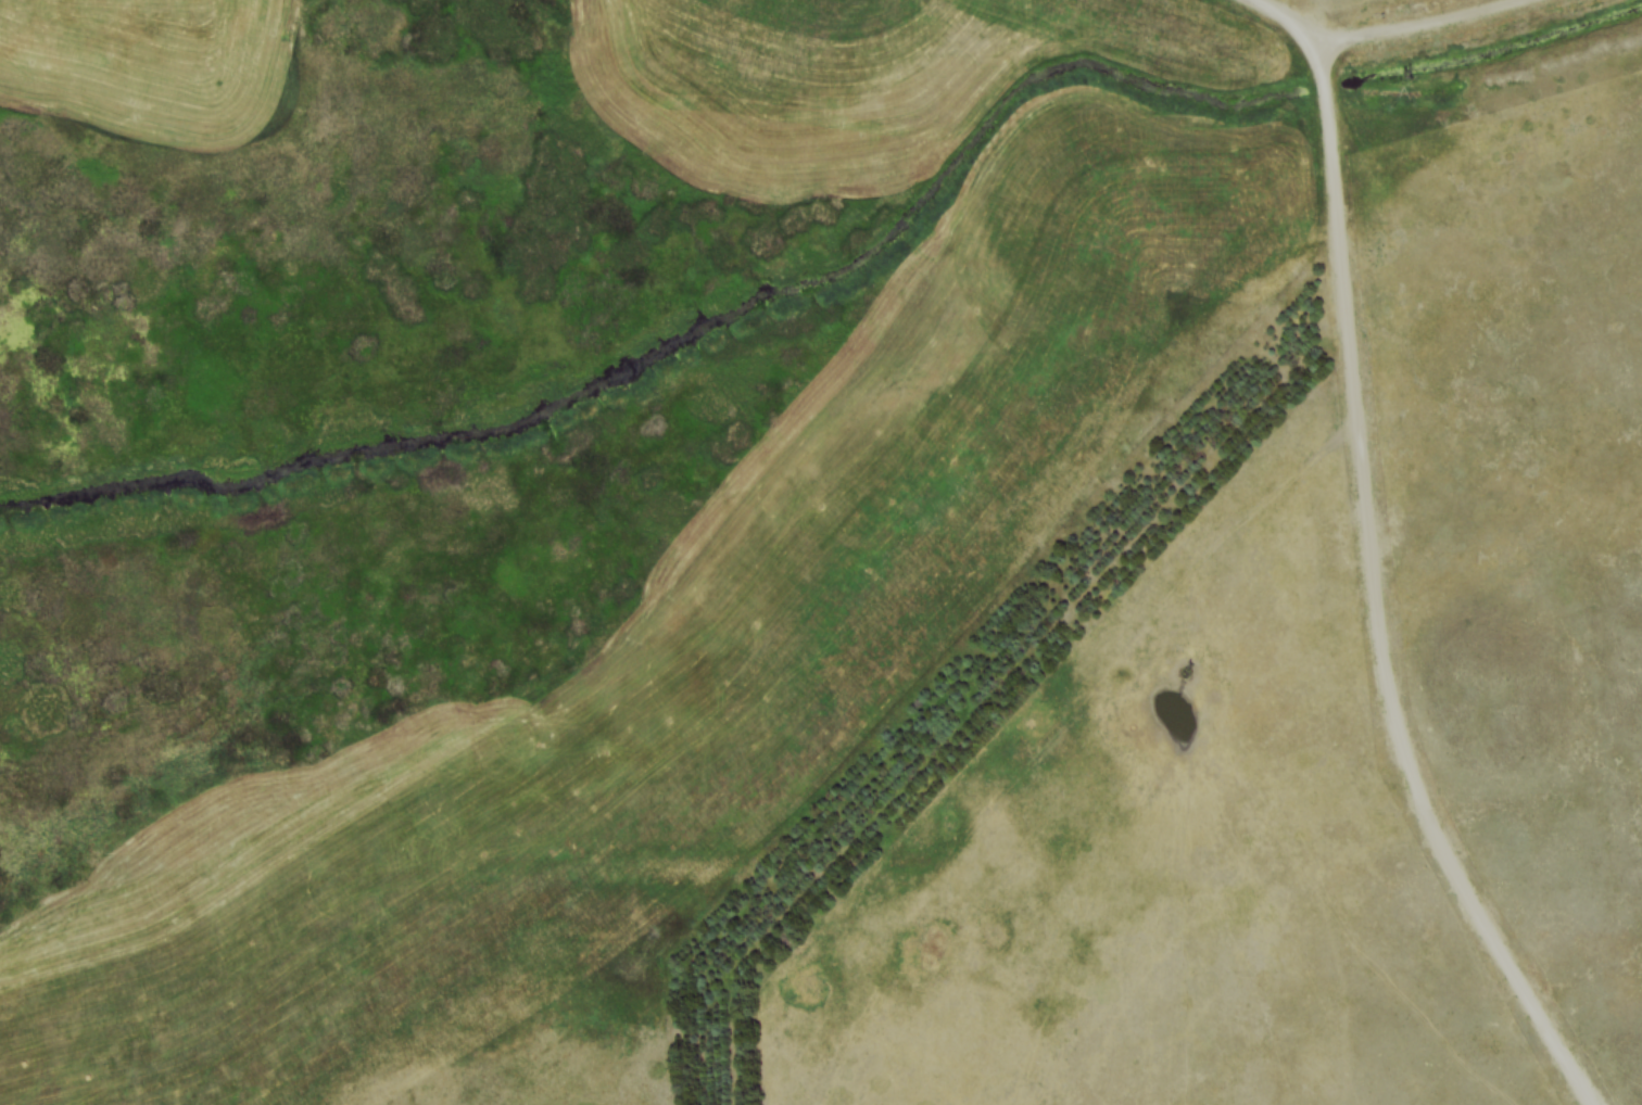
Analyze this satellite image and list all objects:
road: (1409, 24)
road: (1371, 560)

